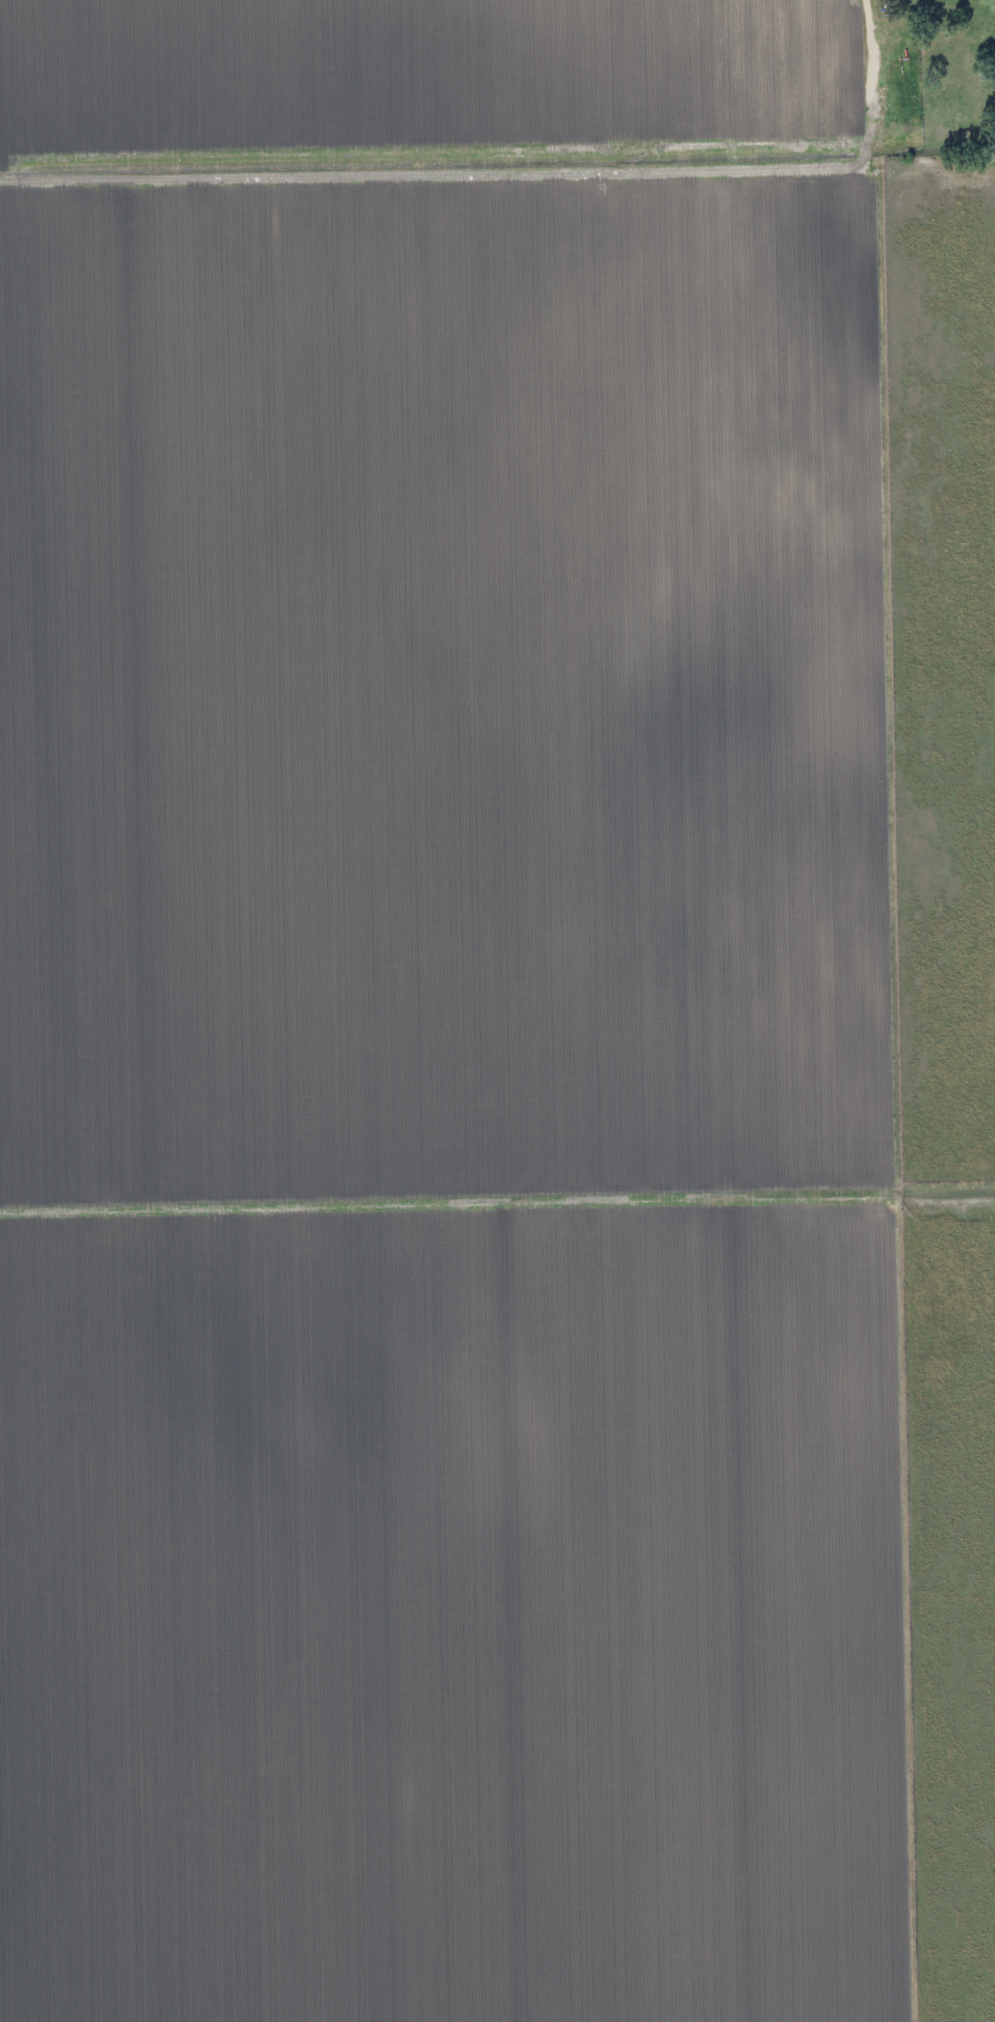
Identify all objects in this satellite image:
road: (853, 76)

